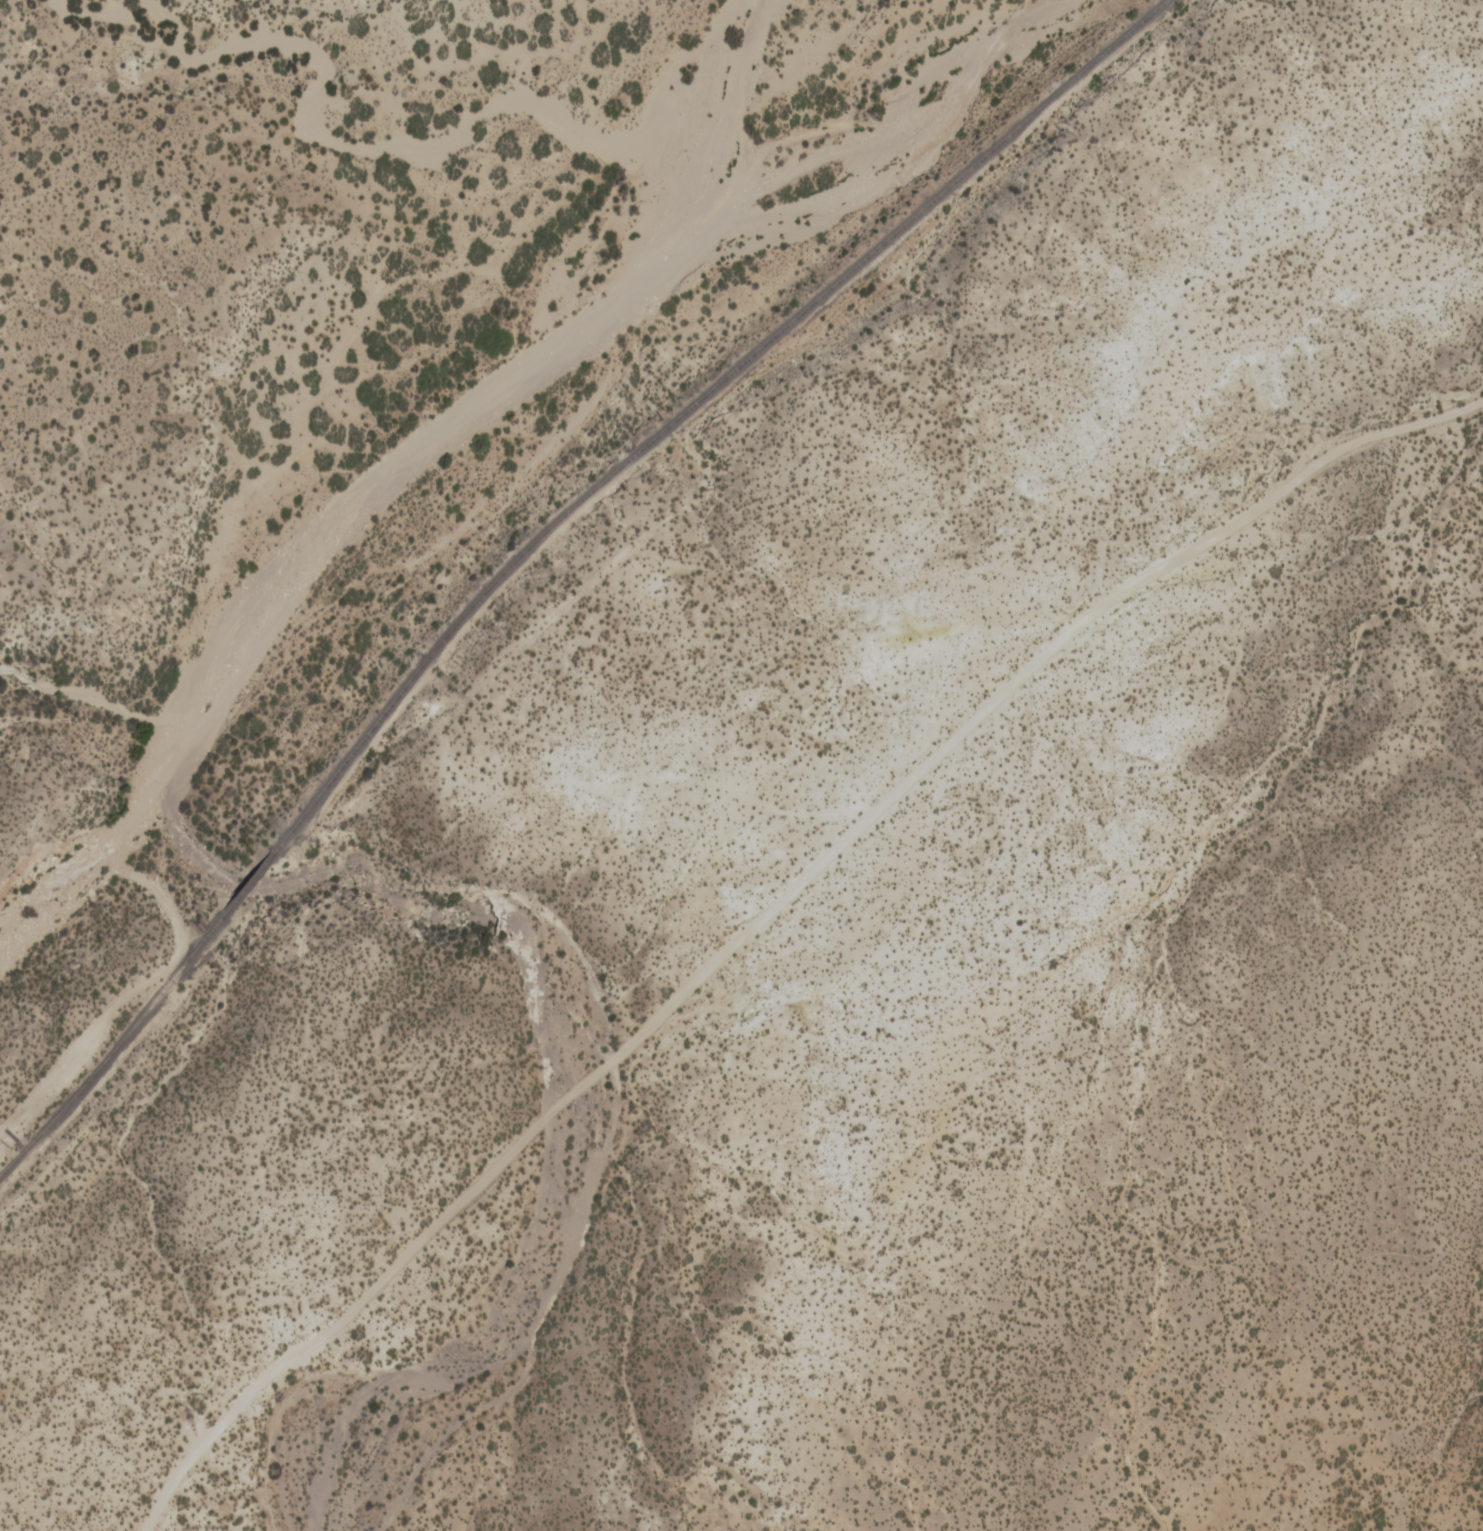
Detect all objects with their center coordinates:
railway: (692, 402)
river: (391, 459)
road: (1011, 681)
railway: (244, 883)
railway: (114, 1047)
road: (362, 1288)

